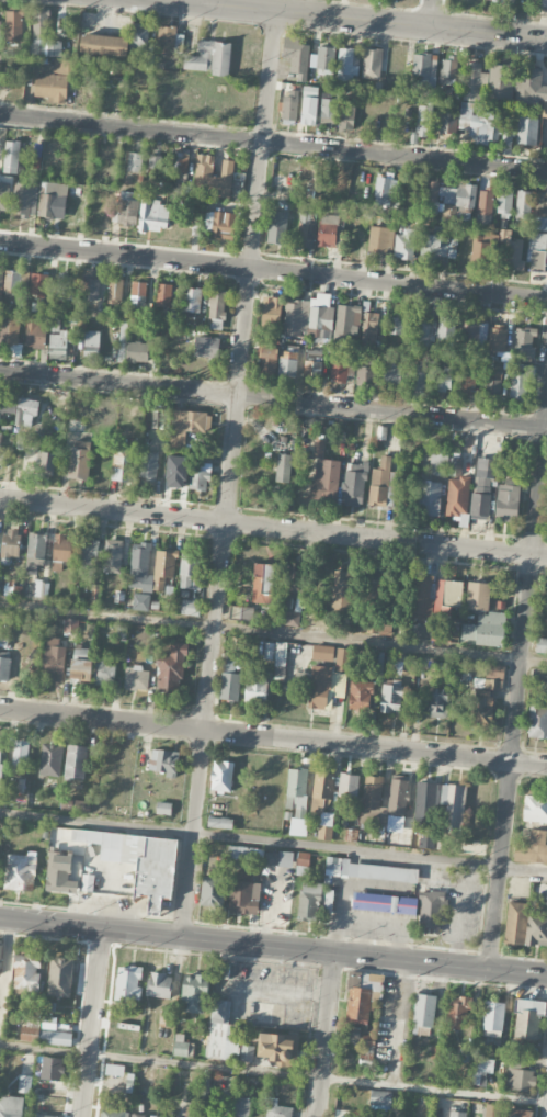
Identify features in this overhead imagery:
building: (502, 0)
road: (198, 2)
road: (434, 14)
road: (351, 21)
building: (14, 25)
building: (0, 27)
building: (44, 35)
building: (140, 37)
building: (169, 40)
building: (103, 44)
building: (209, 57)
building: (323, 57)
building: (296, 60)
building: (371, 63)
building: (349, 64)
building: (417, 65)
building: (62, 66)
building: (449, 68)
building: (475, 78)
building: (500, 80)
building: (50, 87)
building: (525, 87)
building: (309, 105)
building: (290, 106)
building: (328, 109)
building: (346, 114)
building: (423, 120)
building: (448, 122)
building: (480, 123)
building: (527, 132)
road: (273, 140)
building: (37, 155)
building: (11, 157)
building: (134, 161)
building: (155, 161)
building: (181, 162)
building: (204, 169)
building: (227, 172)
building: (317, 173)
building: (385, 190)
building: (452, 194)
building: (4, 195)
building: (24, 199)
building: (53, 200)
building: (486, 201)
building: (504, 202)
building: (524, 204)
building: (126, 208)
building: (542, 210)
building: (153, 215)
building: (223, 224)
building: (328, 226)
building: (277, 227)
building: (306, 227)
building: (380, 239)
building: (404, 245)
building: (440, 246)
building: (480, 247)
building: (512, 249)
building: (537, 251)
road: (273, 271)
building: (11, 279)
building: (1, 282)
building: (38, 284)
building: (65, 284)
building: (90, 287)
building: (115, 290)
building: (138, 292)
building: (163, 295)
building: (192, 298)
building: (216, 309)
building: (272, 312)
building: (309, 316)
building: (347, 320)
building: (398, 324)
building: (369, 328)
building: (447, 329)
building: (424, 330)
building: (475, 331)
building: (35, 332)
building: (497, 337)
building: (524, 341)
building: (59, 343)
building: (91, 343)
building: (207, 346)
building: (137, 351)
building: (267, 361)
building: (288, 362)
building: (314, 363)
building: (340, 370)
building: (366, 371)
building: (391, 373)
building: (419, 381)
building: (443, 382)
building: (468, 384)
building: (492, 385)
building: (518, 385)
road: (273, 399)
building: (19, 406)
building: (186, 426)
building: (1, 456)
building: (79, 459)
building: (438, 462)
building: (48, 463)
building: (124, 464)
building: (149, 464)
building: (284, 467)
building: (175, 471)
building: (326, 473)
building: (200, 475)
road: (229, 475)
building: (354, 483)
building: (380, 483)
building: (482, 487)
building: (457, 489)
building: (430, 498)
building: (508, 501)
road: (273, 528)
building: (10, 543)
building: (36, 544)
building: (61, 552)
building: (89, 555)
building: (113, 555)
building: (32, 566)
building: (140, 567)
building: (163, 567)
building: (190, 571)
building: (263, 583)
building: (374, 587)
building: (15, 590)
building: (342, 590)
building: (448, 594)
building: (293, 595)
building: (421, 597)
building: (140, 601)
building: (190, 607)
building: (241, 612)
building: (546, 614)
building: (482, 618)
building: (316, 619)
building: (70, 625)
building: (414, 631)
road: (273, 632)
building: (440, 635)
building: (542, 645)
building: (267, 650)
building: (322, 653)
building: (342, 658)
building: (53, 659)
building: (281, 659)
building: (378, 662)
building: (80, 663)
building: (4, 668)
building: (170, 669)
building: (103, 672)
building: (230, 675)
building: (539, 676)
building: (136, 677)
building: (319, 686)
building: (257, 690)
building: (361, 693)
building: (487, 693)
road: (517, 693)
building: (391, 697)
building: (438, 702)
building: (538, 722)
road: (273, 736)
building: (20, 754)
building: (50, 759)
building: (76, 760)
building: (155, 761)
building: (1, 765)
building: (221, 776)
building: (349, 786)
building: (297, 790)
building: (442, 802)
building: (323, 803)
building: (378, 803)
building: (75, 804)
building: (163, 808)
building: (535, 808)
building: (220, 822)
building: (403, 839)
building: (426, 839)
road: (273, 843)
building: (532, 847)
building: (244, 853)
building: (278, 858)
building: (303, 858)
building: (138, 861)
building: (372, 870)
building: (20, 871)
building: (59, 875)
building: (213, 891)
building: (241, 891)
building: (310, 900)
building: (407, 907)
building: (525, 925)
road: (273, 948)
building: (0, 955)
building: (26, 971)
building: (60, 977)
building: (128, 982)
building: (158, 984)
building: (194, 992)
building: (361, 1000)
building: (458, 1011)
building: (423, 1015)
building: (166, 1018)
building: (493, 1018)
building: (528, 1018)
building: (48, 1022)
road: (91, 1024)
building: (31, 1028)
building: (221, 1029)
building: (353, 1034)
road: (324, 1035)
building: (55, 1037)
building: (367, 1041)
building: (182, 1046)
building: (278, 1048)
building: (247, 1052)
building: (466, 1054)
building: (52, 1068)
building: (481, 1070)
road: (273, 1073)
building: (523, 1080)
building: (24, 1083)
building: (380, 1098)
building: (10, 1106)
building: (242, 1106)
building: (280, 1109)
building: (190, 1110)
building: (492, 1110)
building: (113, 1113)
building: (518, 1113)
building: (457, 1114)
building: (42, 1115)
building: (138, 1115)
building: (339, 1116)

